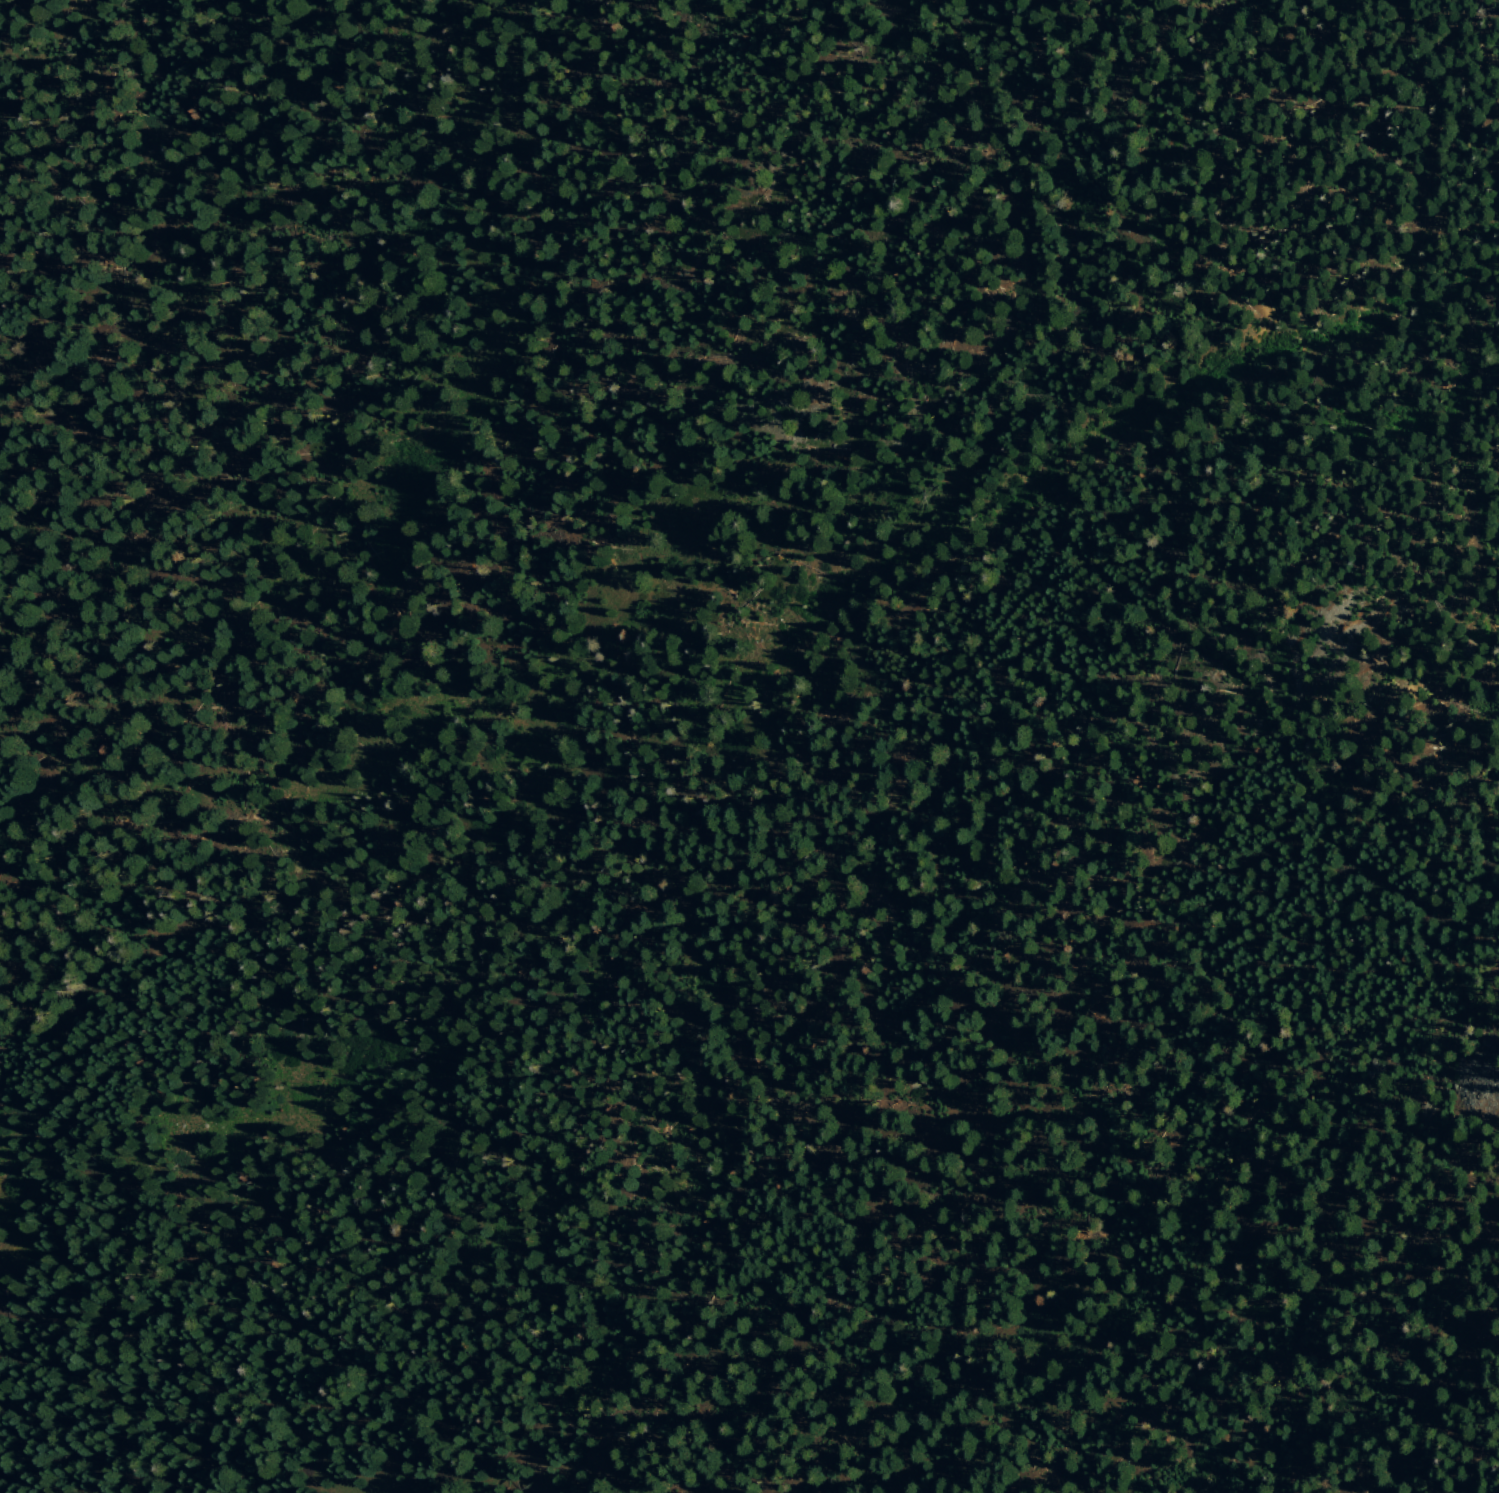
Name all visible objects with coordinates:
road: (907, 769)

